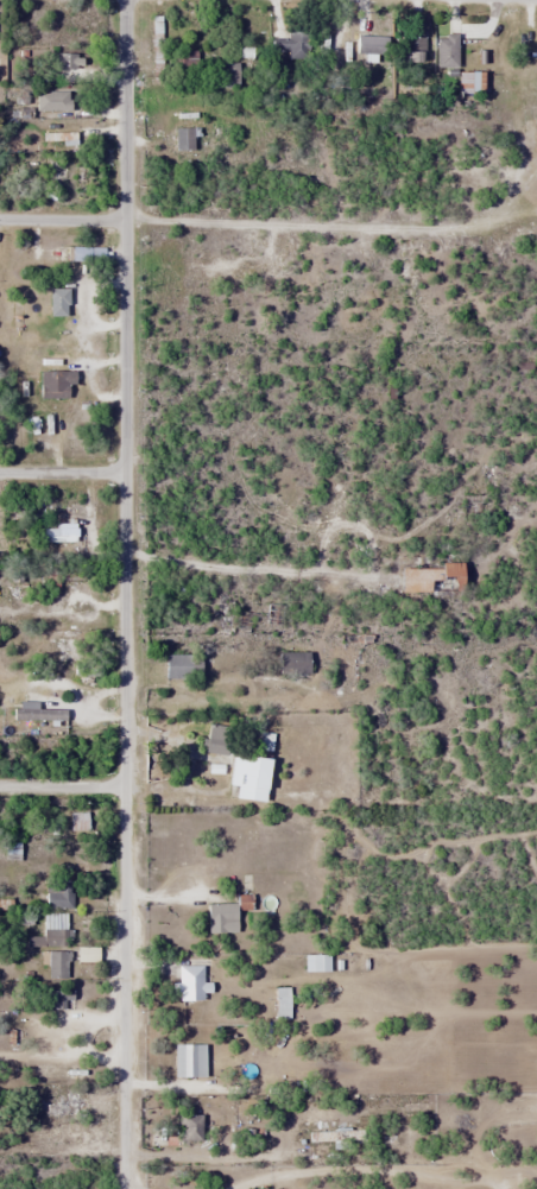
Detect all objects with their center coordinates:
building: (292, 44)
building: (369, 45)
building: (156, 48)
building: (410, 50)
building: (446, 51)
building: (184, 67)
building: (225, 75)
building: (467, 82)
building: (57, 100)
building: (183, 139)
road: (61, 220)
road: (122, 235)
building: (61, 253)
building: (57, 302)
building: (55, 385)
road: (61, 473)
building: (57, 532)
building: (428, 578)
building: (291, 663)
building: (182, 666)
building: (216, 738)
building: (249, 773)
road: (62, 784)
building: (77, 820)
road: (124, 830)
building: (58, 894)
building: (221, 918)
building: (56, 929)
building: (86, 954)
building: (56, 965)
building: (189, 981)
building: (55, 998)
building: (280, 1003)
building: (189, 1058)
building: (173, 1128)

